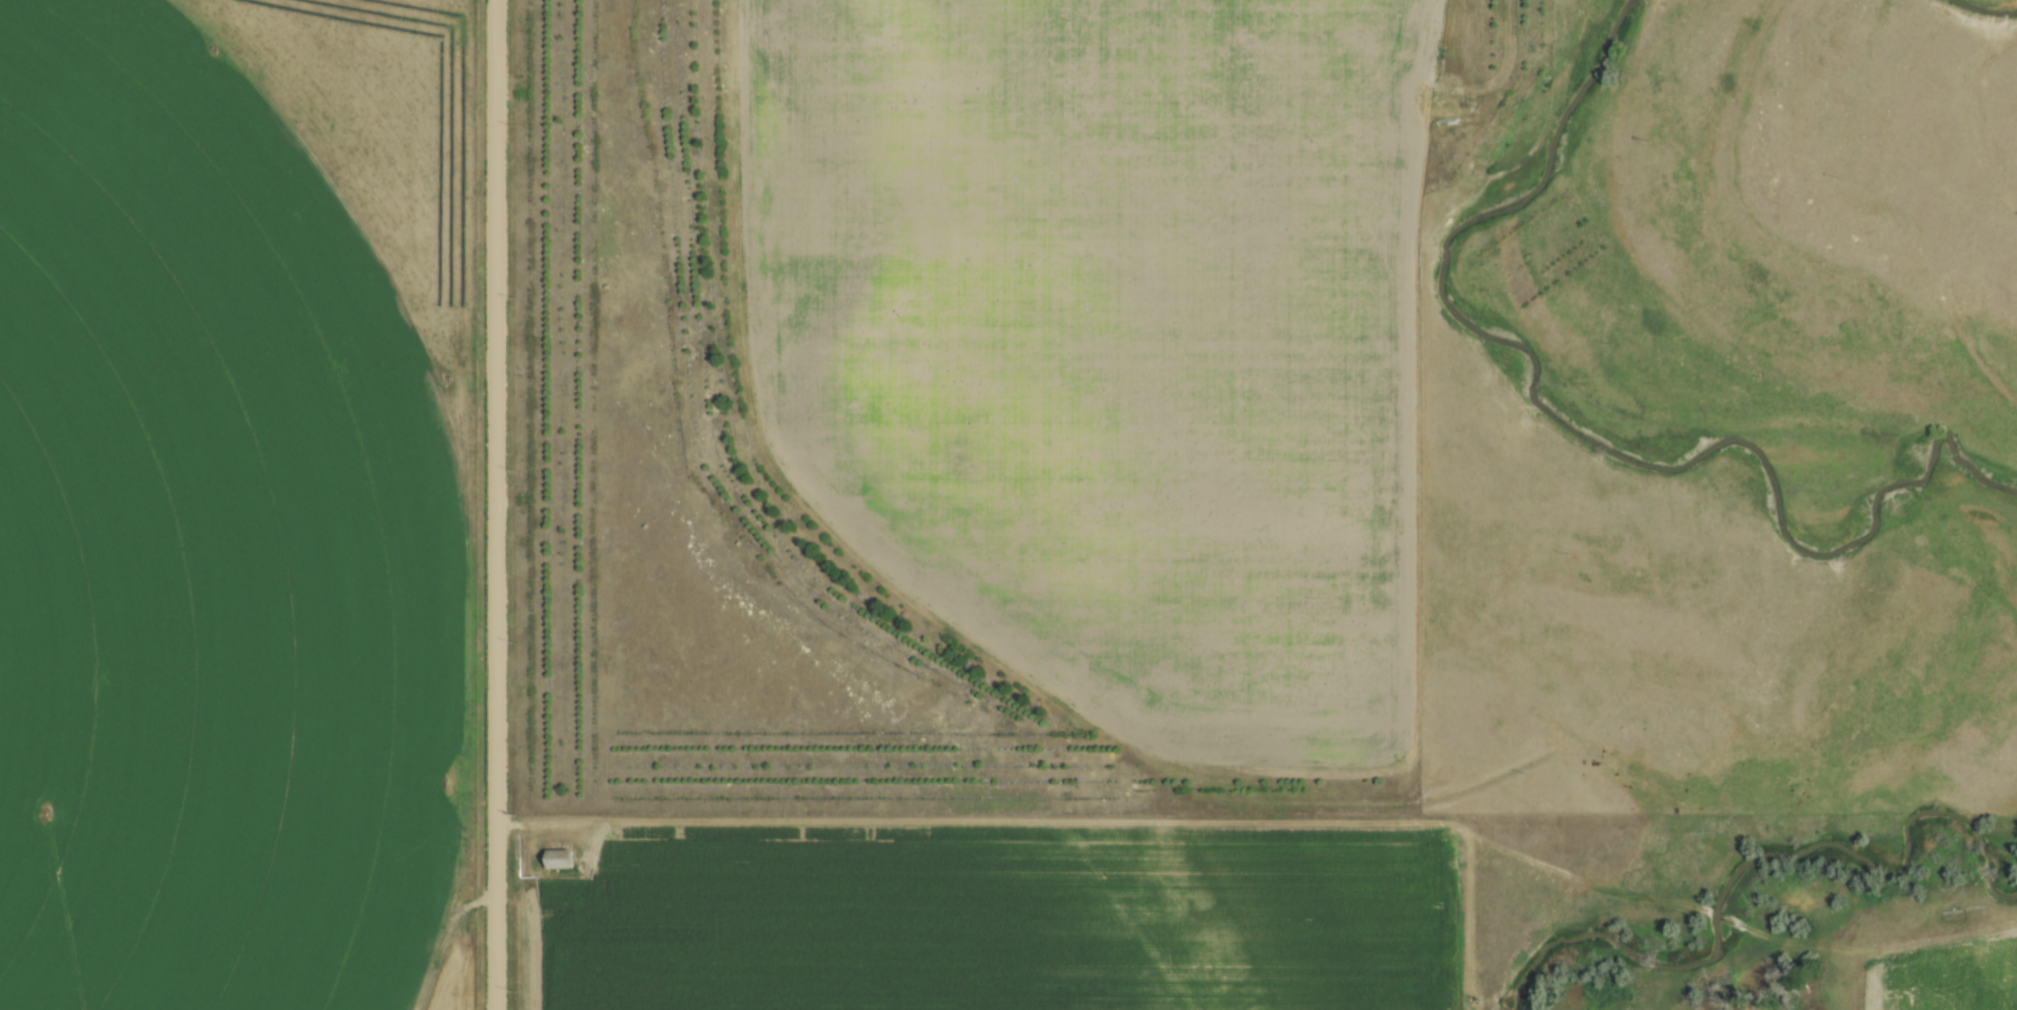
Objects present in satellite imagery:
crop: (1110, 337)
crop: (233, 503)
road: (499, 505)
building: (562, 858)
crop: (998, 920)
crop: (1954, 982)

